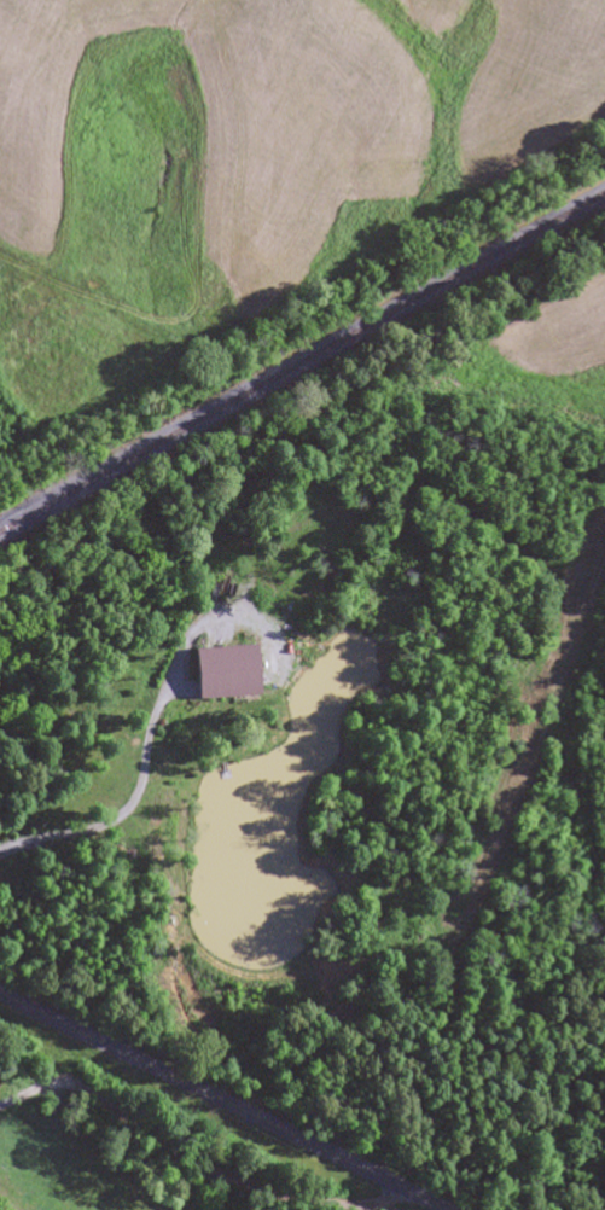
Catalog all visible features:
railway: (302, 360)
building: (228, 669)
road: (221, 1101)
road: (167, 1138)
road: (425, 1208)

